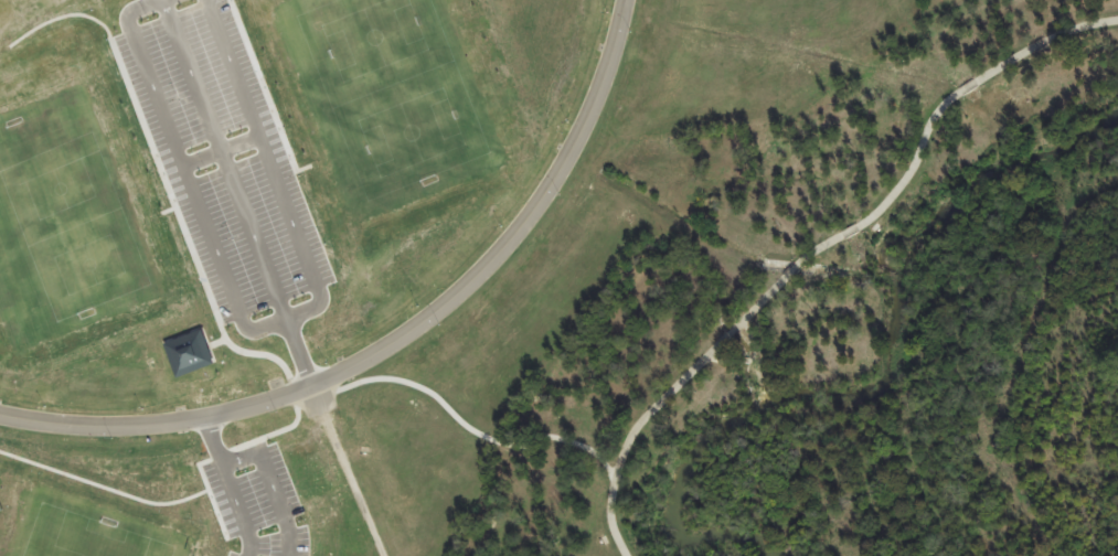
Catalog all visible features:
road: (937, 115)
parking lot: (223, 162)
park: (255, 180)
road: (796, 267)
road: (400, 339)
road: (298, 352)
road: (756, 354)
road: (666, 398)
road: (475, 431)
road: (343, 472)

